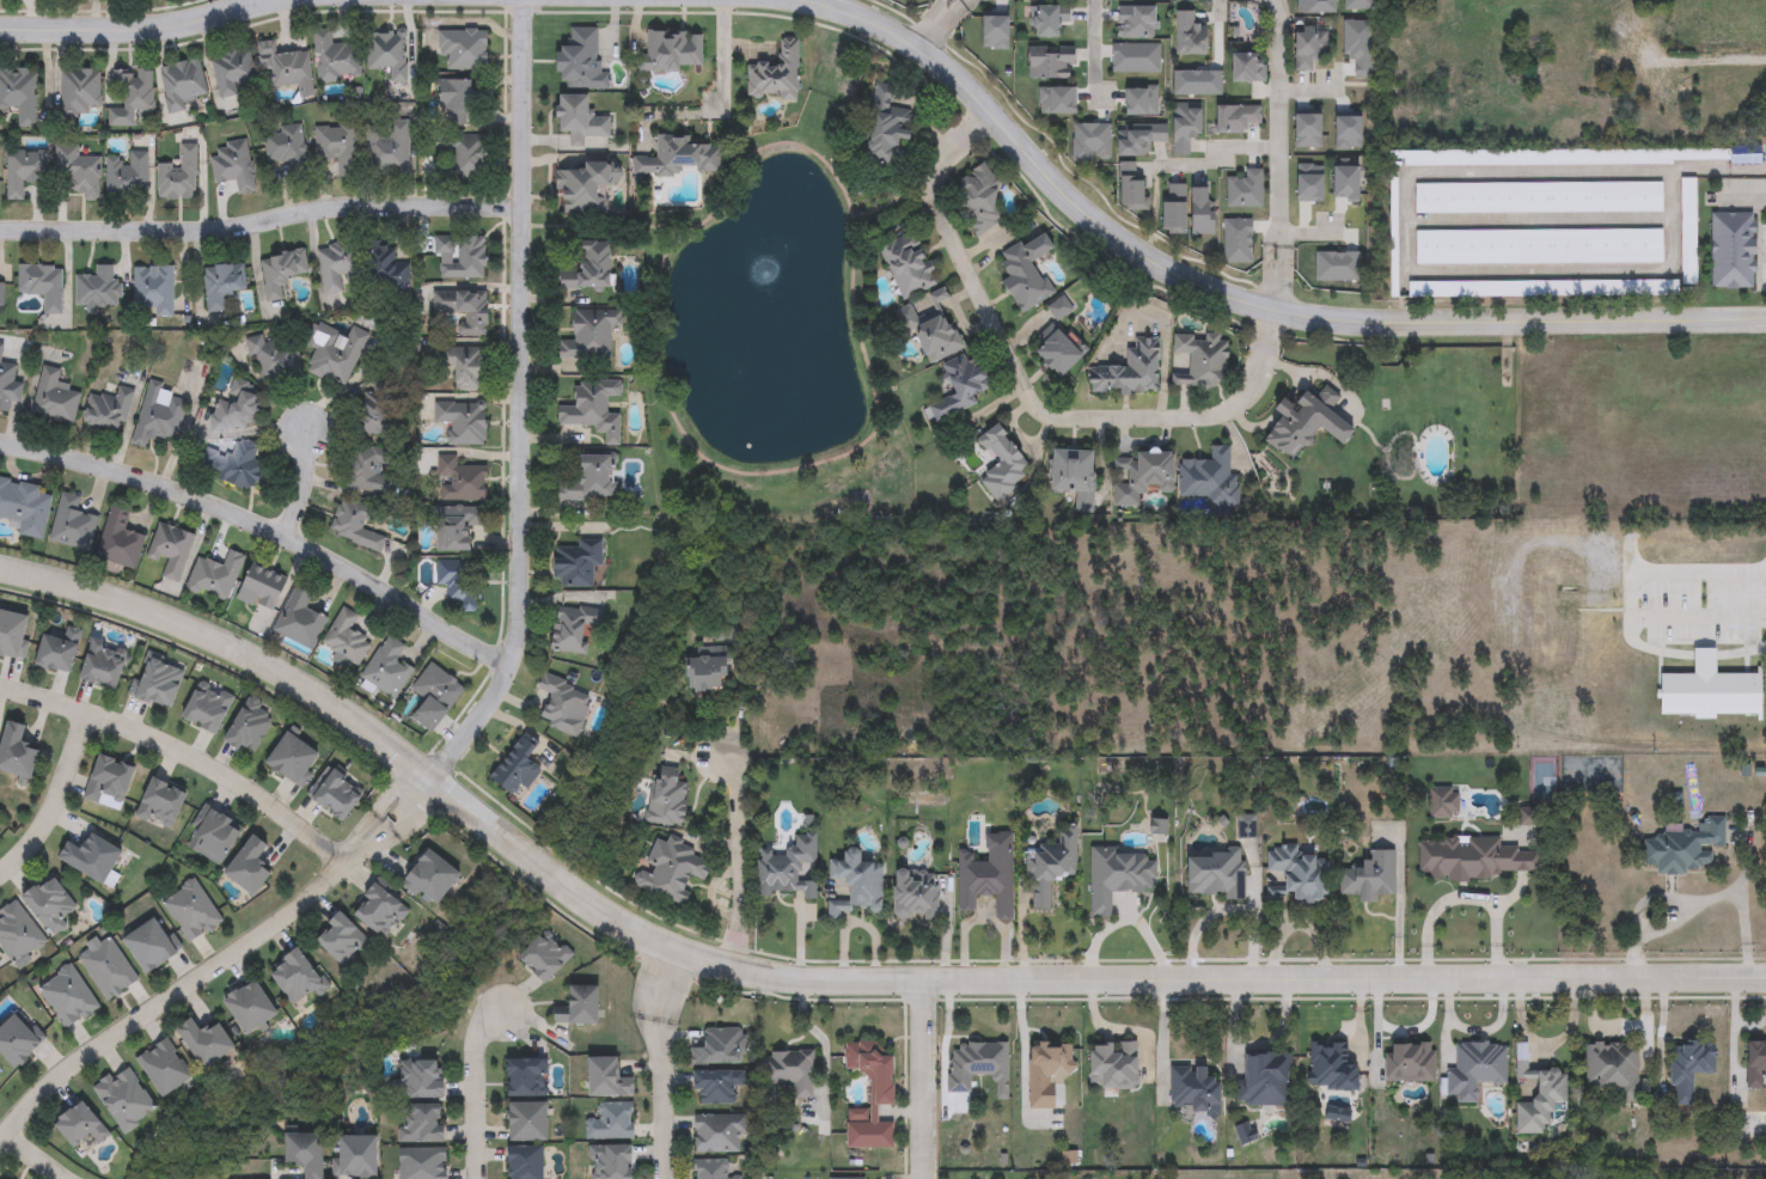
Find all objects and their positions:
road: (829, 0)
road: (257, 1)
road: (940, 22)
building: (1049, 22)
building: (1137, 22)
road: (145, 26)
building: (1191, 35)
road: (1096, 38)
building: (1312, 47)
building: (1611, 48)
building: (464, 50)
road: (729, 50)
building: (673, 51)
building: (387, 54)
building: (336, 59)
road: (1694, 60)
building: (581, 61)
building: (1053, 63)
building: (287, 68)
building: (1251, 68)
building: (234, 72)
building: (776, 75)
building: (1435, 77)
building: (183, 84)
road: (1309, 88)
building: (1674, 90)
building: (80, 92)
building: (19, 93)
building: (132, 97)
building: (458, 100)
building: (1239, 118)
building: (582, 120)
building: (1187, 127)
building: (888, 136)
building: (1141, 139)
building: (337, 146)
building: (286, 147)
building: (387, 149)
road: (1285, 154)
road: (1220, 155)
building: (463, 157)
building: (1575, 157)
building: (683, 158)
building: (233, 165)
building: (25, 171)
building: (84, 173)
building: (128, 176)
building: (179, 177)
building: (585, 188)
building: (1133, 189)
building: (1246, 191)
building: (1539, 197)
building: (979, 201)
road: (1744, 202)
road: (900, 207)
building: (1177, 207)
building: (1205, 212)
road: (259, 218)
road: (867, 222)
road: (603, 231)
road: (1309, 233)
building: (1687, 238)
building: (1540, 246)
building: (1395, 250)
building: (1731, 250)
building: (463, 258)
building: (909, 264)
building: (588, 265)
building: (340, 267)
building: (386, 268)
building: (1028, 271)
building: (282, 273)
building: (42, 285)
building: (222, 285)
building: (98, 287)
building: (1540, 288)
building: (153, 291)
building: (2, 294)
road: (1239, 297)
building: (937, 298)
building: (1061, 309)
building: (466, 310)
building: (591, 335)
building: (940, 335)
road: (518, 338)
building: (334, 354)
building: (1061, 354)
building: (273, 358)
park: (795, 360)
building: (1200, 361)
building: (466, 365)
building: (1132, 372)
building: (8, 384)
building: (963, 389)
road: (1027, 392)
building: (55, 399)
building: (381, 404)
building: (595, 409)
building: (237, 410)
building: (109, 411)
building: (159, 416)
building: (1309, 422)
building: (463, 423)
building: (1004, 464)
building: (234, 465)
building: (366, 470)
building: (1074, 474)
building: (1143, 476)
building: (1208, 477)
building: (591, 481)
building: (462, 482)
road: (299, 483)
building: (25, 508)
building: (356, 524)
building: (73, 525)
building: (459, 527)
road: (264, 530)
building: (120, 542)
building: (171, 550)
building: (578, 566)
building: (215, 578)
building: (460, 582)
building: (262, 589)
road: (1630, 599)
building: (300, 619)
building: (574, 630)
building: (13, 635)
building: (347, 639)
building: (59, 652)
building: (104, 666)
building: (389, 668)
building: (713, 676)
building: (158, 680)
building: (435, 697)
building: (566, 707)
building: (208, 709)
road: (465, 727)
building: (250, 728)
building: (17, 753)
building: (293, 760)
road: (179, 762)
building: (518, 769)
building: (109, 783)
building: (336, 794)
building: (667, 798)
road: (53, 799)
building: (163, 804)
building: (1444, 804)
building: (214, 837)
building: (1680, 848)
building: (92, 857)
road: (734, 859)
building: (1056, 859)
building: (1479, 860)
building: (251, 868)
building: (789, 869)
building: (672, 872)
building: (1302, 874)
building: (1218, 875)
building: (989, 876)
building: (1119, 876)
building: (433, 879)
building: (1371, 879)
building: (857, 884)
building: (916, 893)
road: (1706, 900)
building: (53, 906)
road: (1228, 910)
building: (380, 911)
building: (191, 912)
road: (1125, 921)
road: (1297, 926)
building: (18, 934)
building: (343, 941)
building: (151, 947)
building: (546, 958)
road: (215, 964)
building: (108, 969)
building: (299, 979)
road: (826, 979)
building: (68, 998)
building: (579, 1008)
building: (252, 1009)
road: (1120, 1028)
road: (1162, 1039)
building: (19, 1040)
building: (208, 1044)
road: (942, 1046)
building: (720, 1049)
road: (1021, 1050)
road: (658, 1061)
building: (1411, 1062)
building: (979, 1065)
building: (1114, 1065)
building: (1754, 1065)
building: (1334, 1067)
building: (165, 1069)
building: (793, 1070)
building: (1474, 1070)
building: (1687, 1070)
building: (1609, 1071)
building: (1047, 1073)
building: (526, 1079)
road: (919, 1080)
building: (1266, 1080)
building: (422, 1081)
building: (609, 1081)
building: (719, 1087)
building: (1197, 1088)
road: (475, 1089)
building: (872, 1095)
building: (1538, 1098)
building: (124, 1100)
building: (611, 1123)
building: (528, 1124)
building: (423, 1125)
building: (81, 1126)
building: (720, 1134)
building: (306, 1153)
building: (358, 1159)
road: (30, 1160)
building: (612, 1162)
building: (527, 1163)
building: (424, 1165)
building: (716, 1169)

